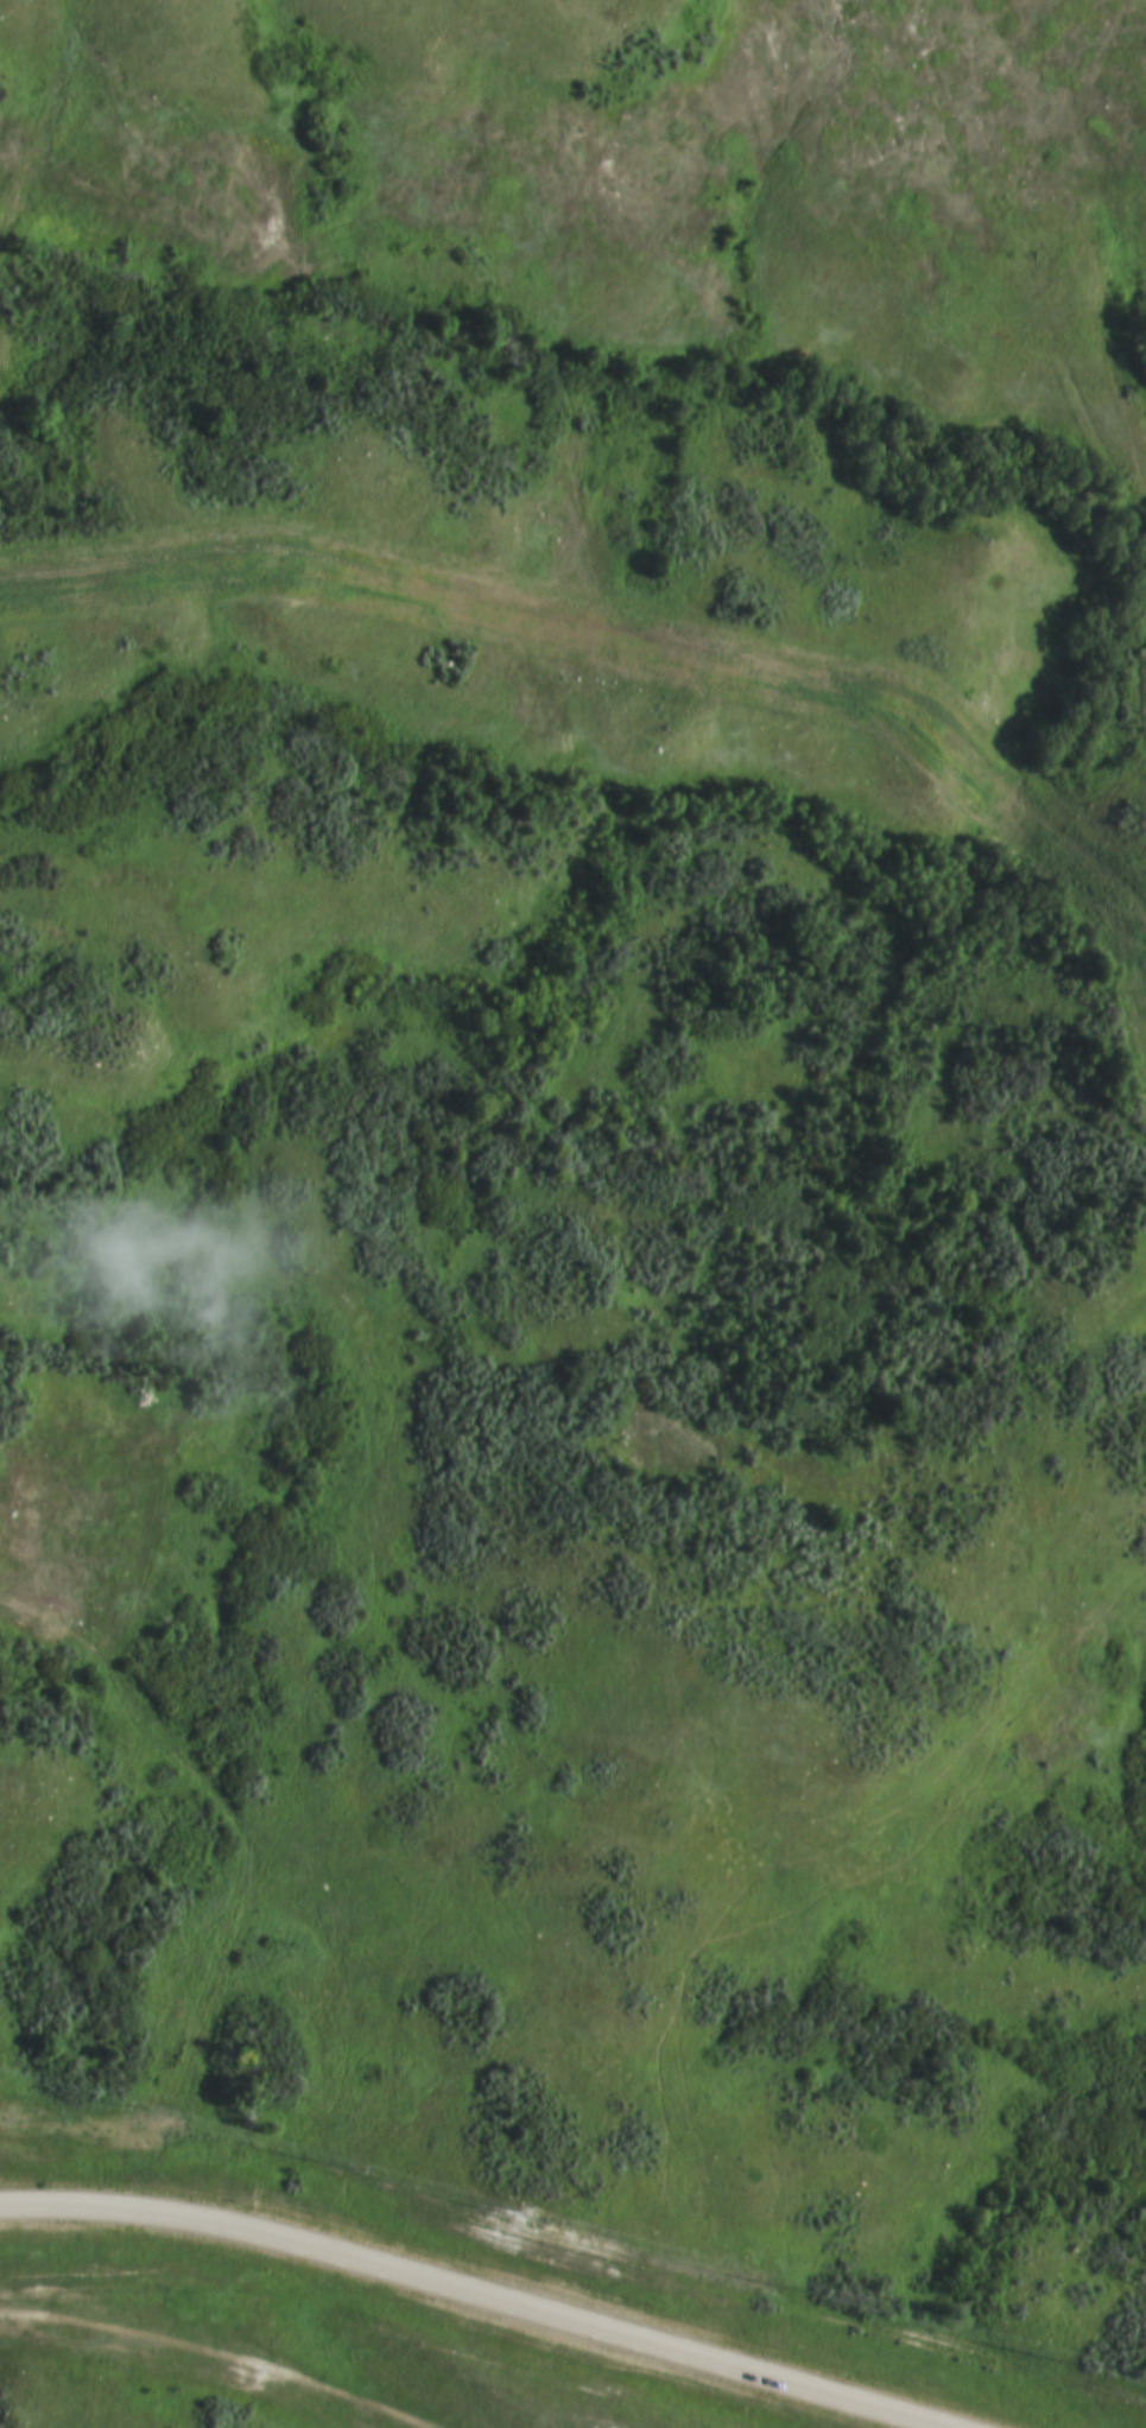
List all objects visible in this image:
road: (492, 2301)

